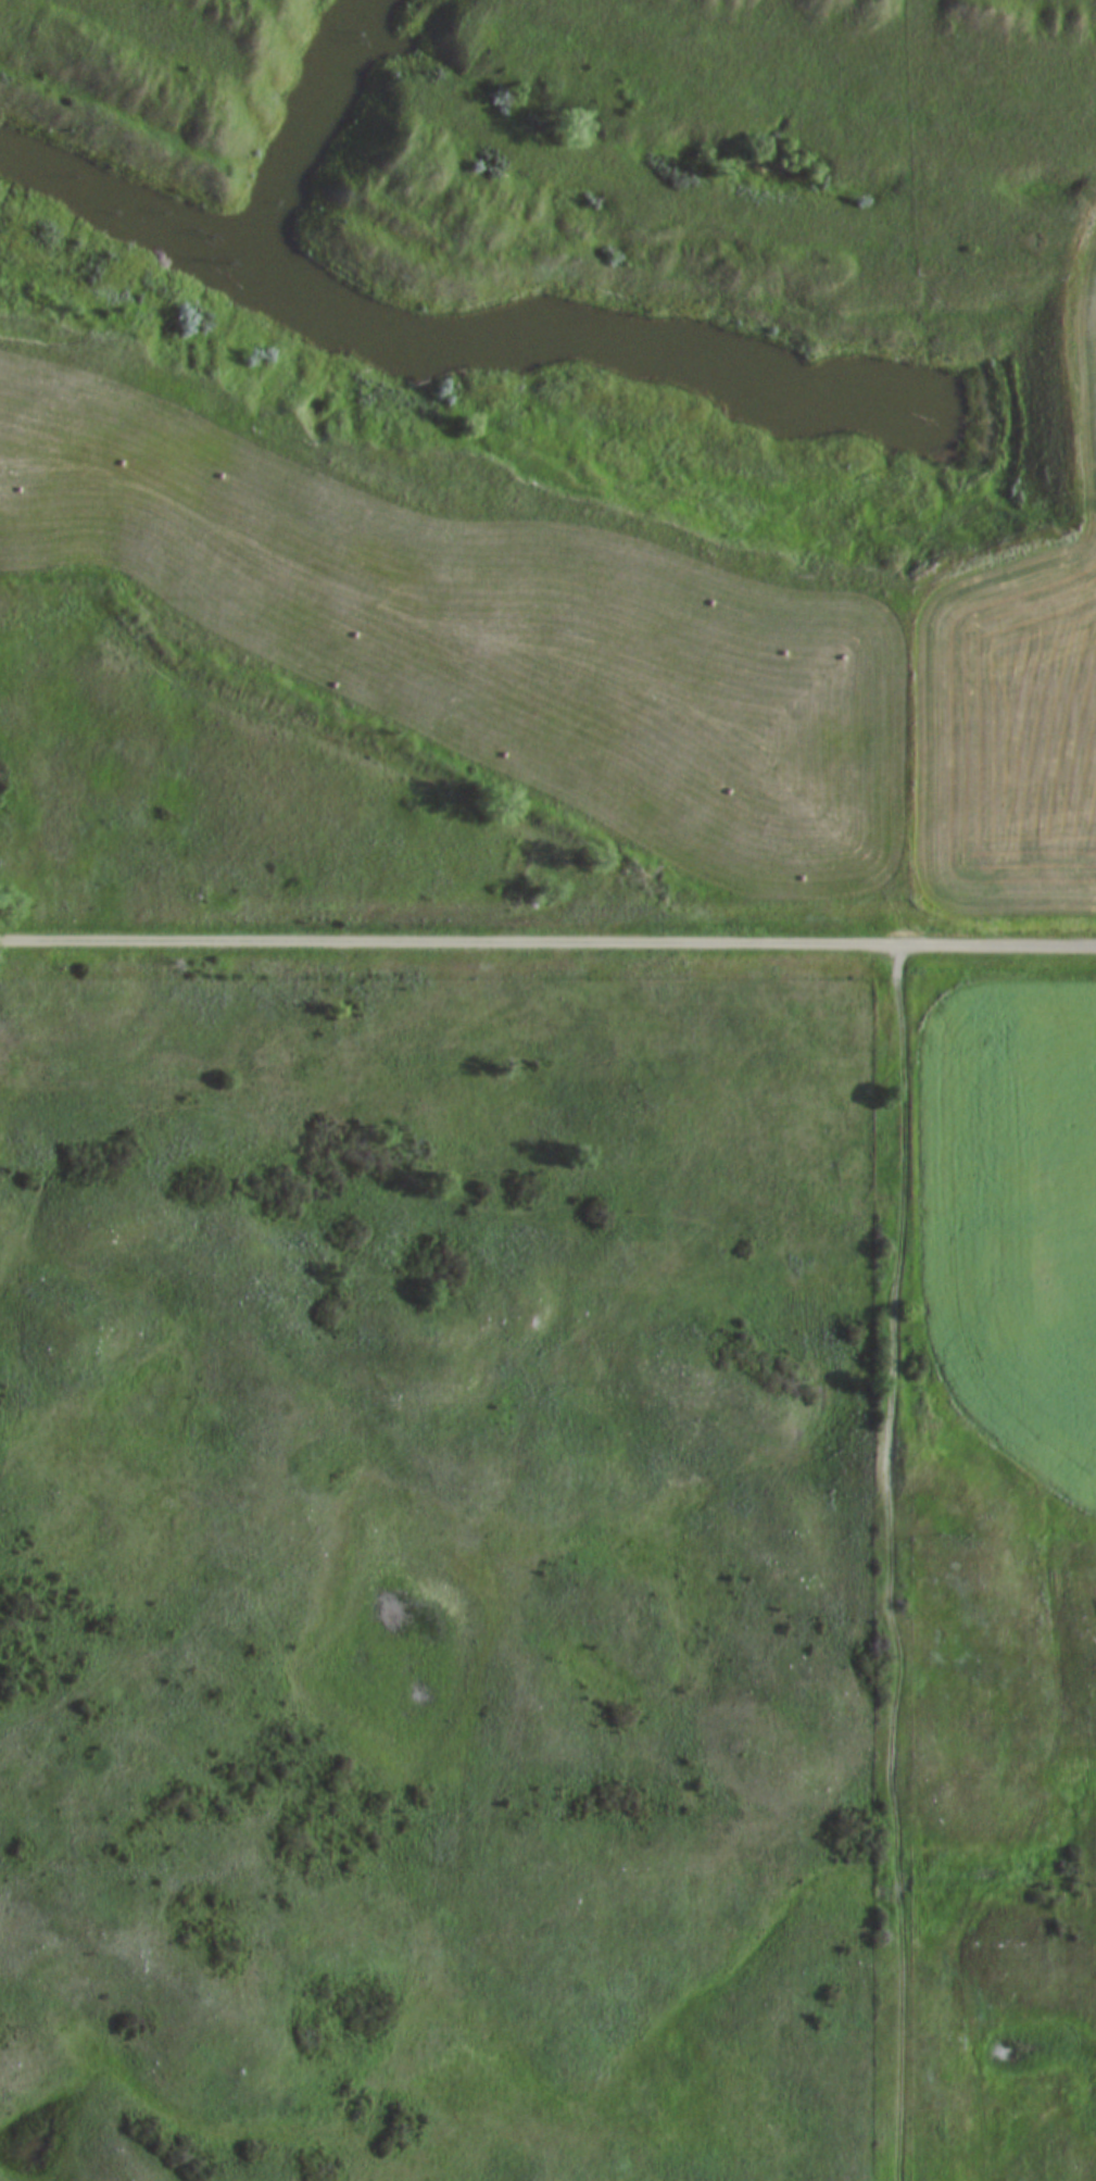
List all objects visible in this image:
quarry: (593, 237)
road: (454, 940)
road: (1003, 945)
road: (894, 1353)

